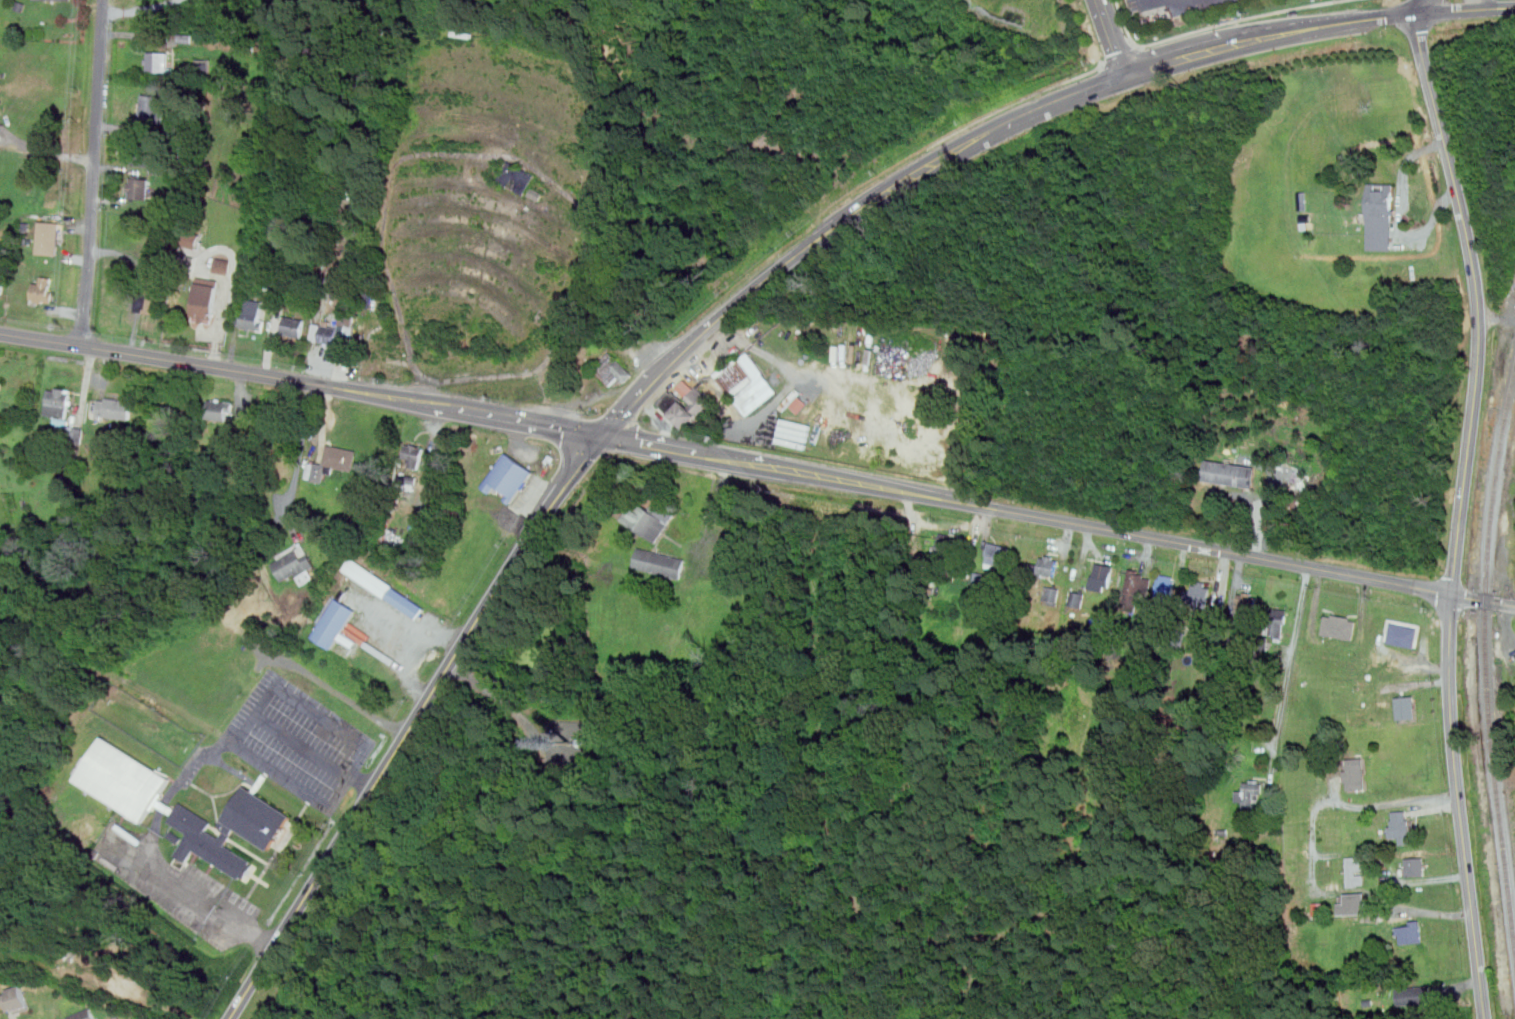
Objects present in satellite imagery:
building: (70, 0)
road: (1476, 4)
road: (1420, 7)
road: (1465, 9)
road: (143, 12)
road: (1220, 24)
road: (1270, 35)
road: (1117, 37)
road: (1143, 48)
road: (1125, 58)
building: (157, 61)
building: (205, 65)
road: (1016, 102)
road: (1049, 107)
building: (149, 108)
road: (43, 152)
building: (139, 154)
road: (95, 173)
building: (516, 177)
building: (139, 187)
road: (1399, 214)
building: (1380, 216)
road: (841, 221)
building: (49, 237)
building: (193, 240)
building: (223, 265)
building: (0, 278)
building: (44, 288)
building: (150, 299)
building: (205, 300)
building: (252, 314)
road: (712, 325)
building: (293, 326)
building: (327, 333)
building: (613, 369)
road: (225, 370)
road: (650, 382)
building: (0, 383)
building: (747, 383)
building: (59, 402)
building: (685, 403)
building: (114, 408)
building: (220, 409)
road: (526, 421)
building: (70, 433)
traffic signals: (601, 434)
road: (693, 452)
building: (413, 455)
road: (298, 458)
building: (332, 462)
building: (1230, 473)
building: (510, 475)
building: (399, 478)
road: (1462, 513)
building: (648, 519)
road: (1150, 537)
building: (997, 555)
building: (659, 562)
building: (296, 565)
building: (1046, 566)
building: (1102, 578)
building: (1166, 586)
building: (384, 588)
building: (1134, 591)
building: (1200, 593)
building: (1052, 595)
building: (1077, 599)
building: (1246, 604)
building: (333, 622)
building: (1277, 623)
building: (1339, 627)
building: (1403, 634)
road: (401, 643)
road: (1336, 645)
railway: (1487, 647)
road: (1290, 669)
building: (1406, 706)
road: (253, 717)
road: (413, 725)
road: (315, 751)
building: (1356, 773)
building: (124, 779)
building: (1251, 793)
road: (1391, 804)
building: (1400, 824)
building: (231, 830)
building: (1415, 865)
building: (1356, 870)
road: (171, 879)
building: (1353, 903)
building: (1319, 909)
road: (1424, 911)
road: (244, 924)
building: (1409, 931)
building: (1414, 994)
building: (17, 999)
building: (85, 1014)

